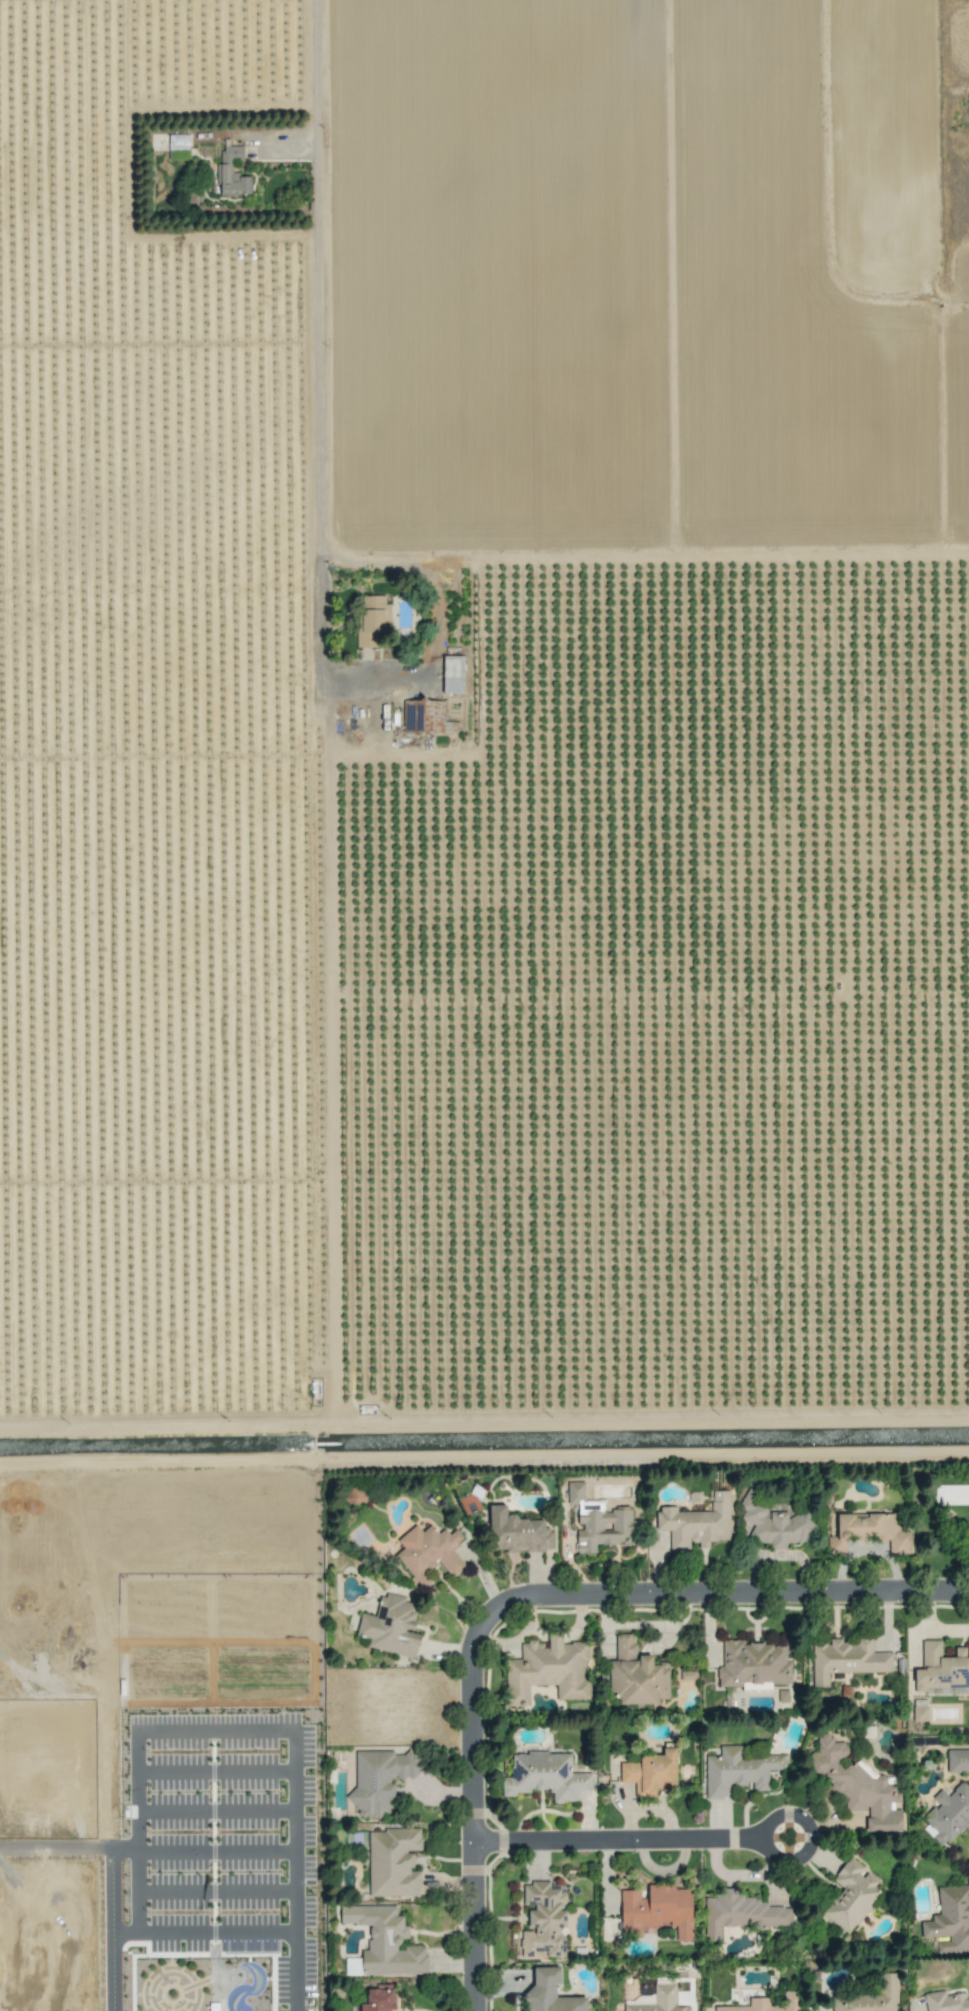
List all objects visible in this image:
building: (177, 142)
building: (224, 168)
road: (318, 283)
road: (644, 554)
building: (372, 621)
road: (323, 668)
building: (452, 674)
crop: (483, 713)
building: (422, 716)
building: (356, 1496)
building: (597, 1522)
building: (696, 1523)
building: (774, 1523)
building: (869, 1531)
building: (517, 1532)
building: (429, 1553)
road: (722, 1603)
building: (391, 1626)
building: (846, 1659)
building: (752, 1664)
building: (942, 1669)
building: (547, 1670)
building: (636, 1674)
building: (685, 1676)
road: (202, 1731)
building: (957, 1761)
building: (738, 1770)
building: (650, 1773)
building: (545, 1776)
building: (379, 1779)
building: (857, 1787)
road: (461, 1813)
building: (948, 1814)
road: (55, 1846)
road: (622, 1850)
building: (392, 1862)
building: (851, 1895)
building: (657, 1910)
building: (740, 1914)
building: (544, 1921)
building: (950, 1922)
building: (385, 1941)
building: (352, 1966)
building: (548, 1993)
building: (870, 1998)
building: (378, 2000)
building: (656, 2000)
building: (946, 2002)
building: (765, 2004)

